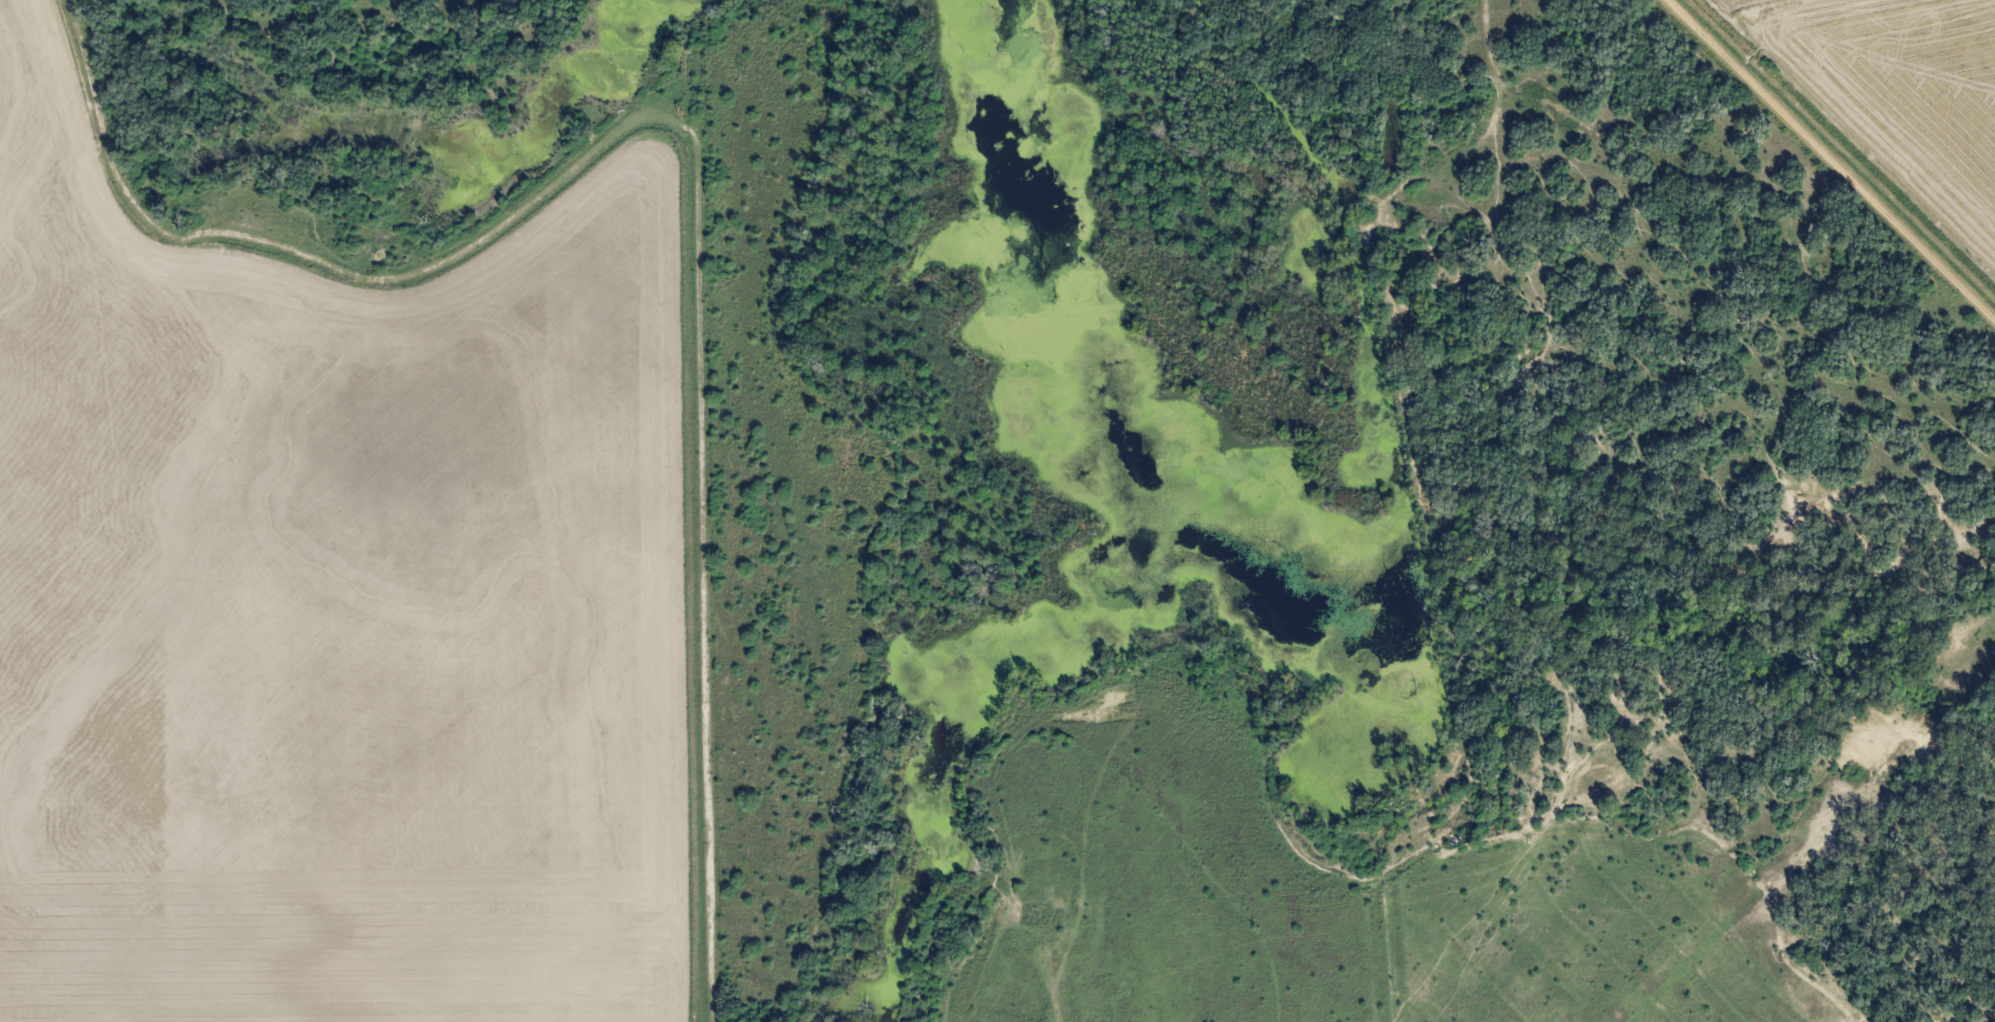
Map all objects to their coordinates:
road: (1850, 143)

